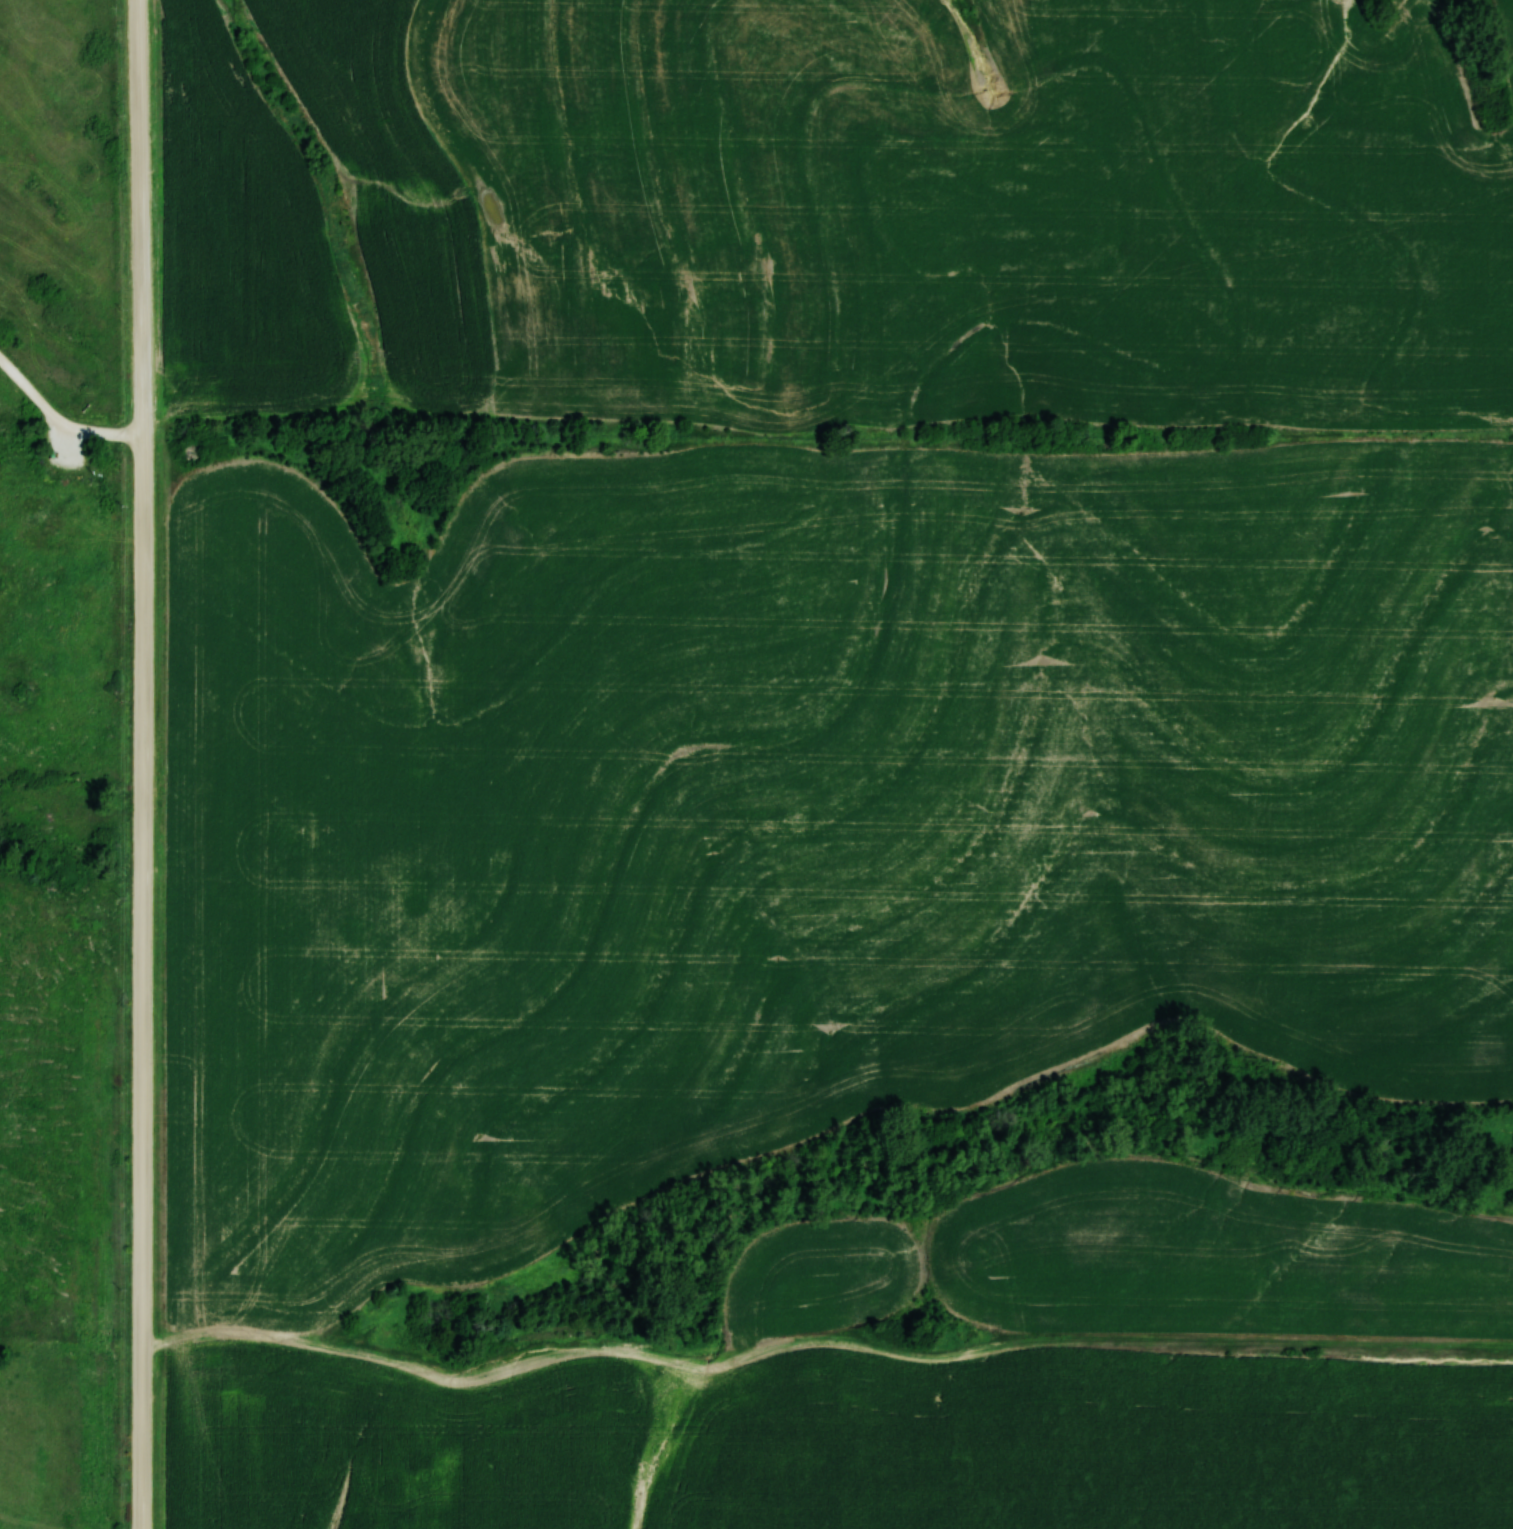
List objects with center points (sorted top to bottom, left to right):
road: (60, 421)
road: (72, 427)
parking lot: (65, 446)
road: (144, 764)

